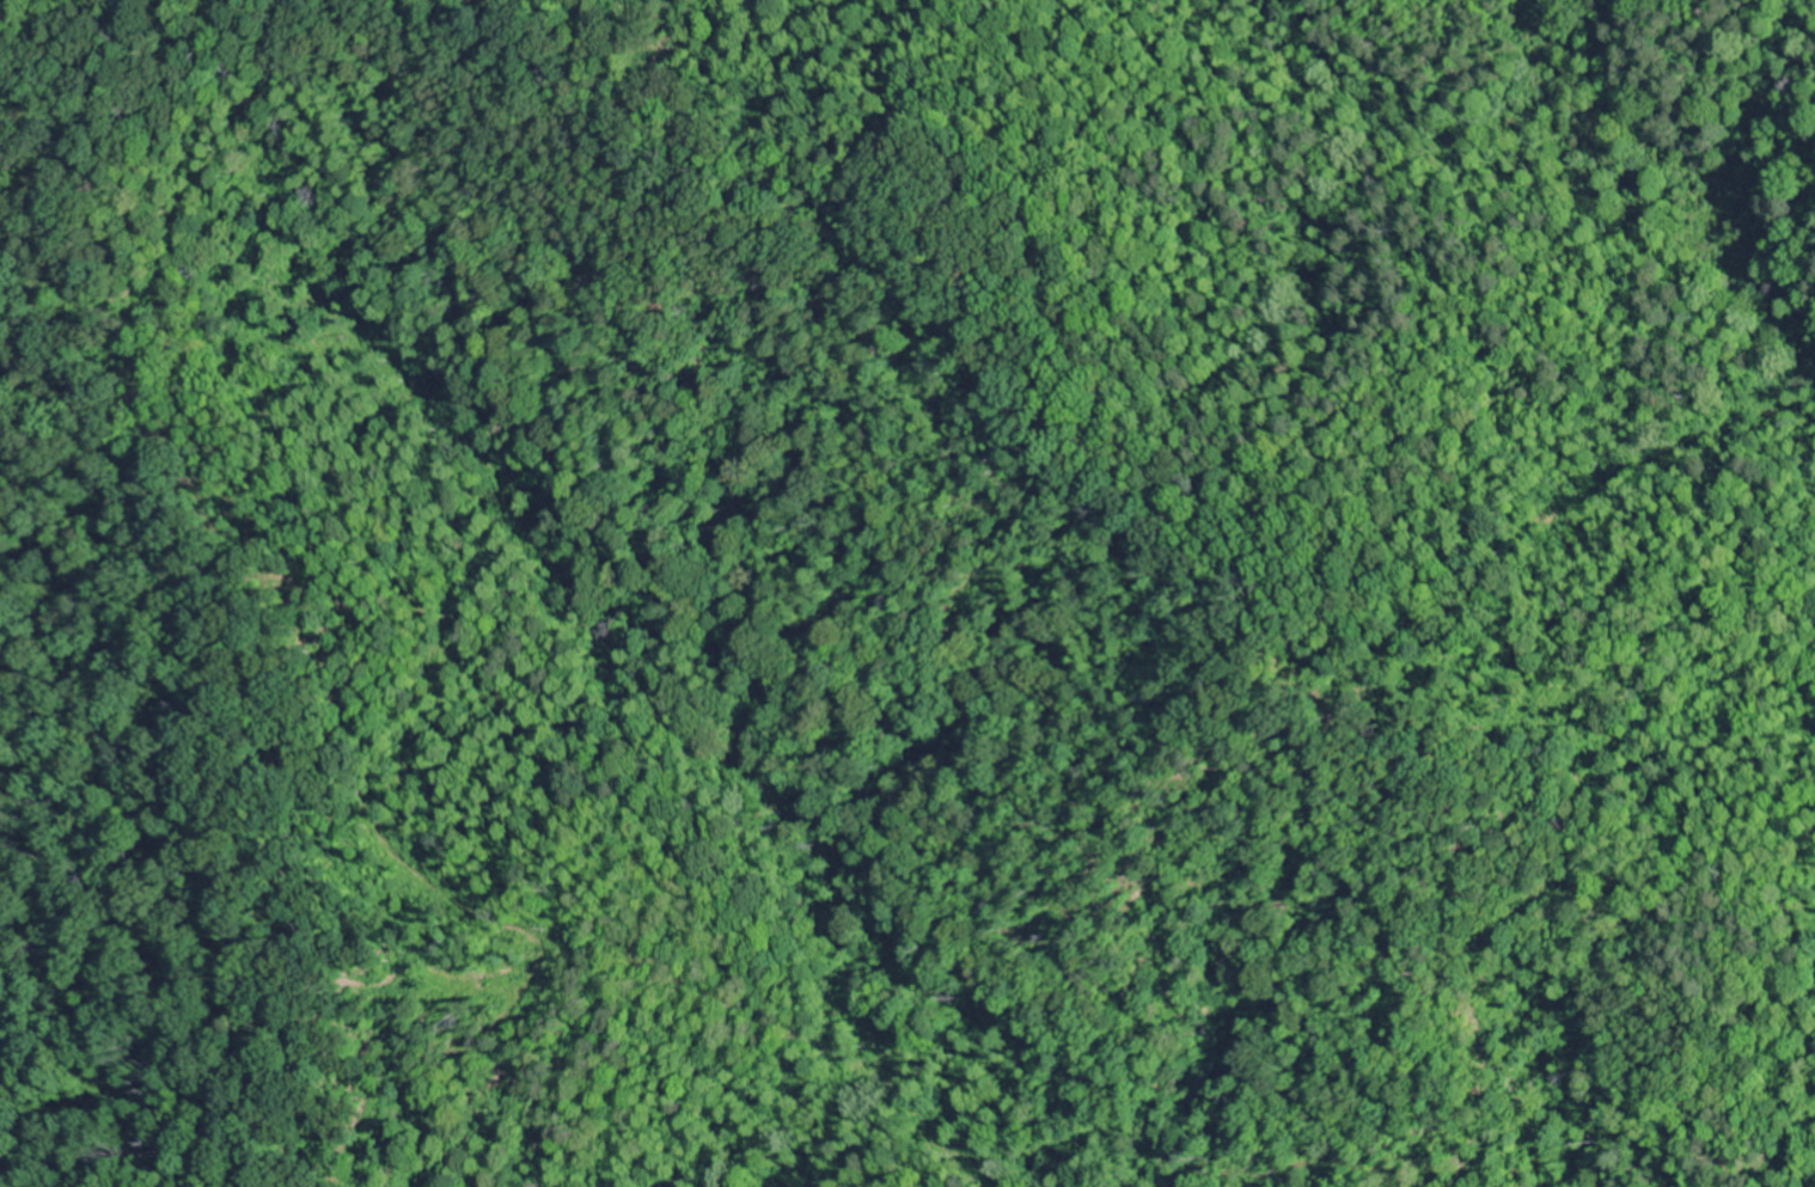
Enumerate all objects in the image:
road: (1724, 224)

